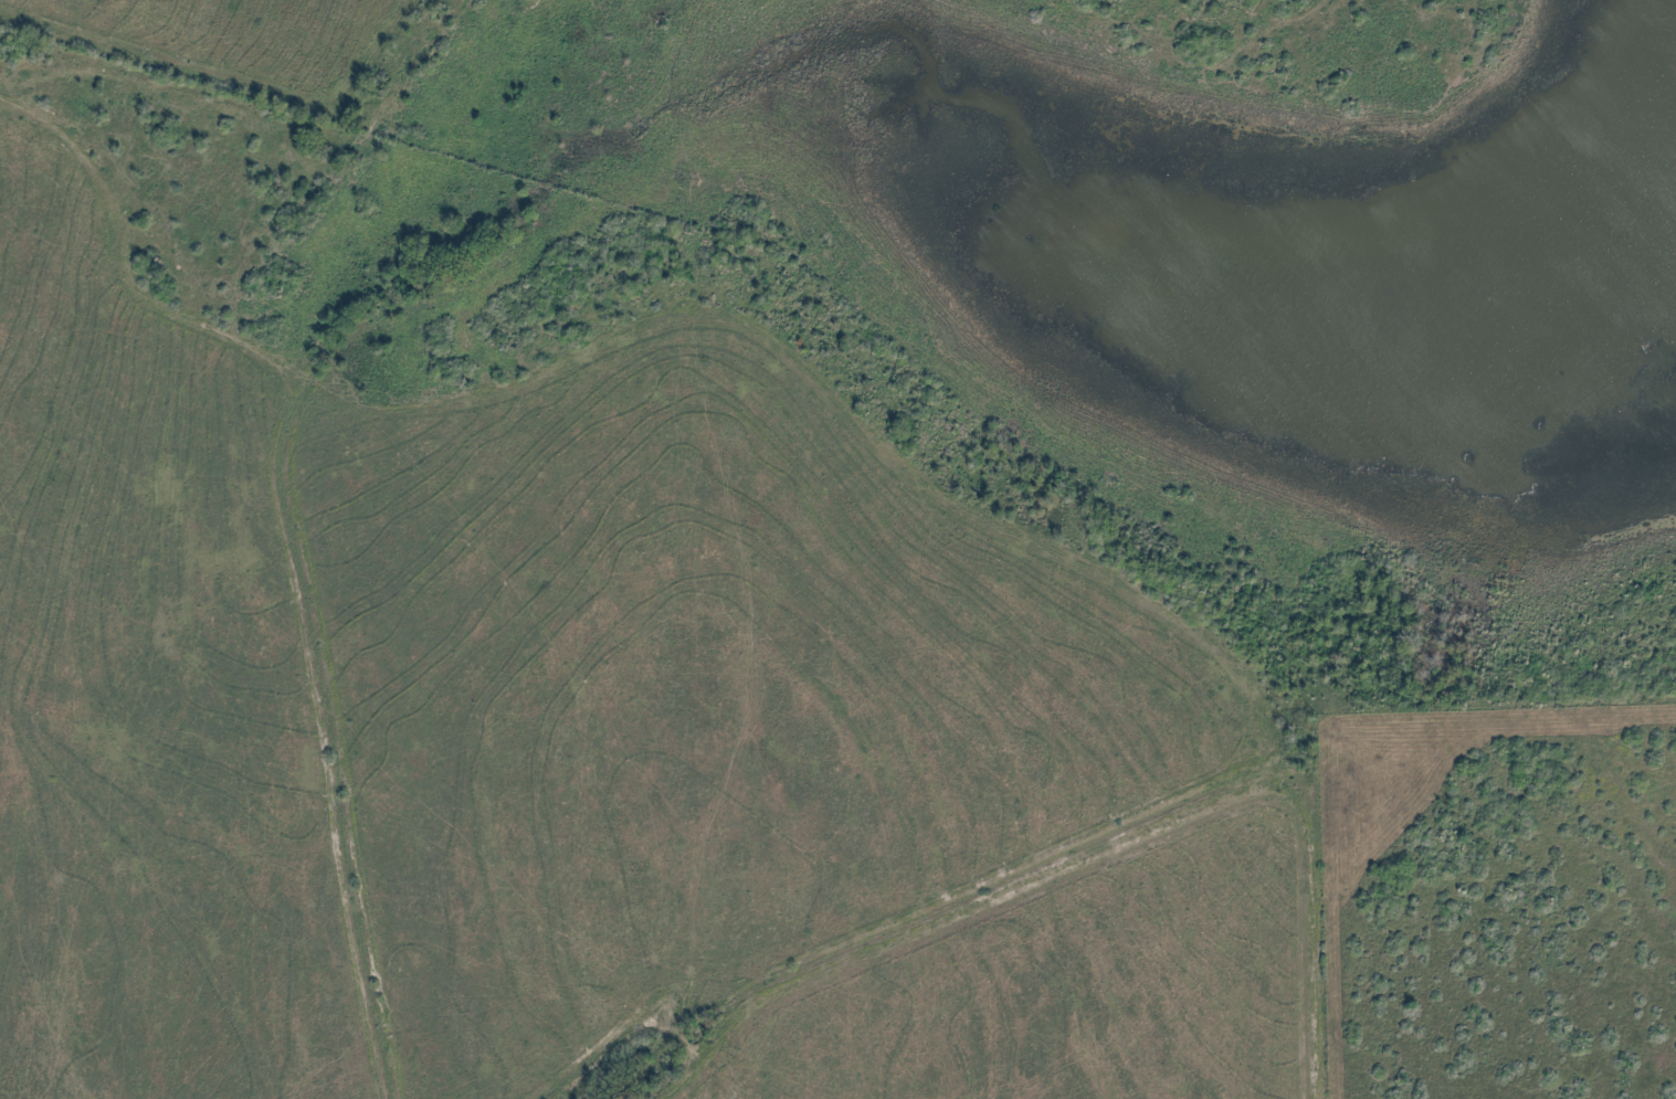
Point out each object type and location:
road: (1666, 802)
road: (738, 1084)

